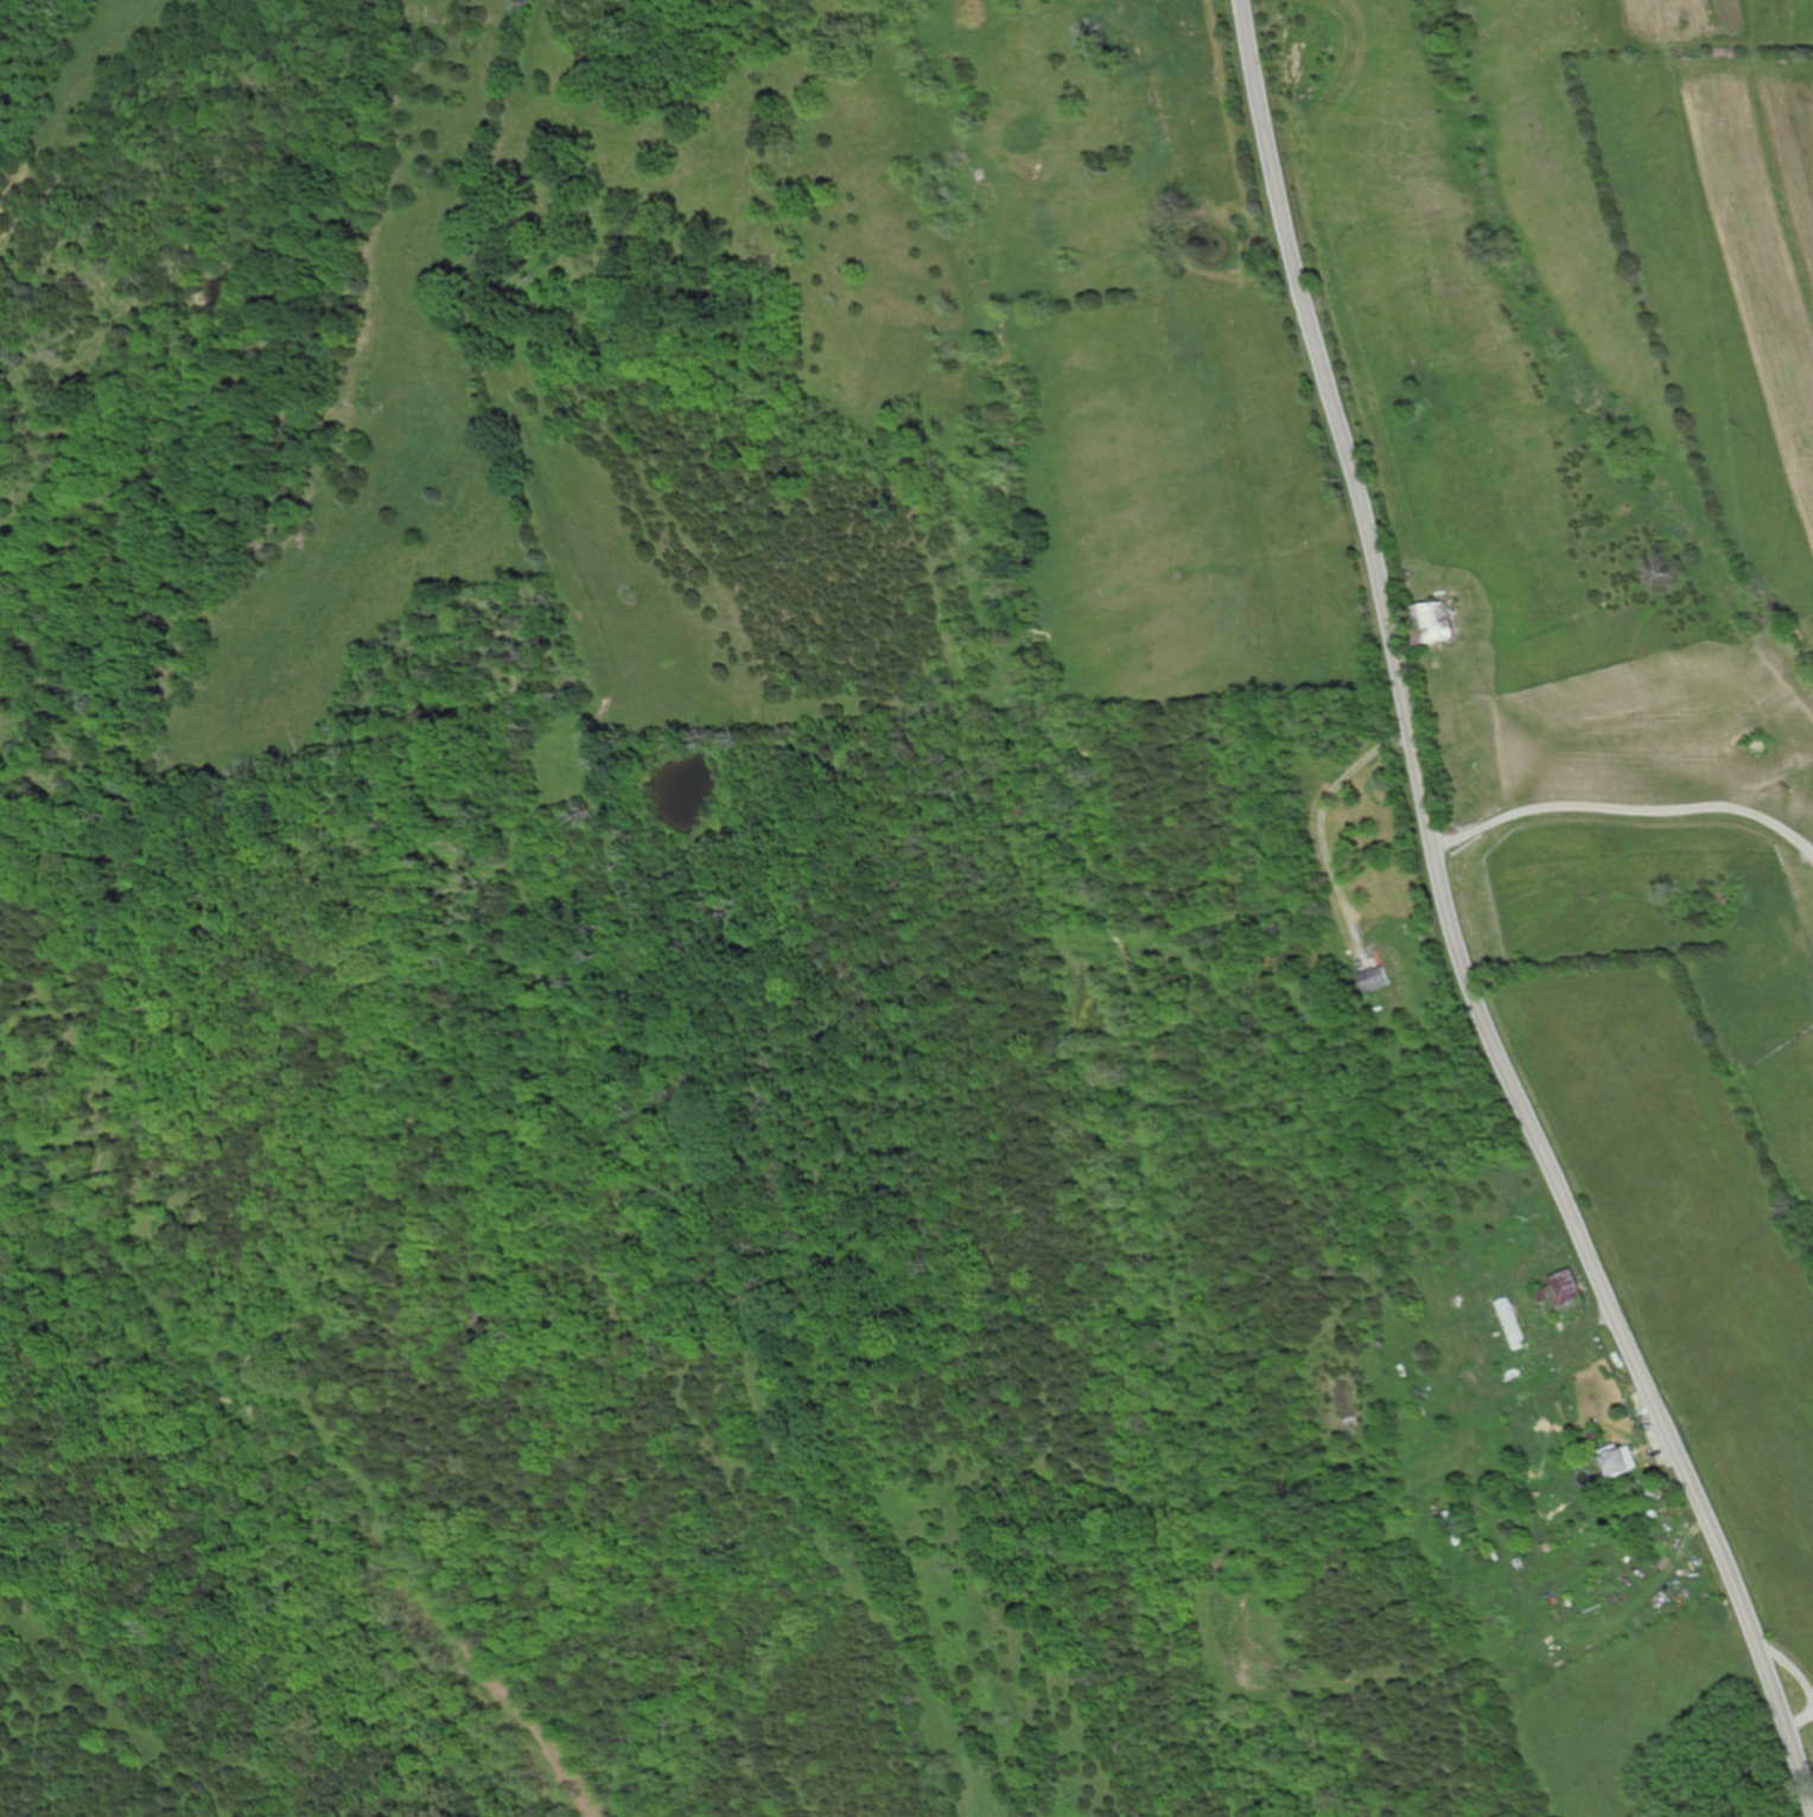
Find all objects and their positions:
road: (1626, 811)
road: (1455, 931)
building: (1368, 980)
building: (1559, 1289)
building: (1617, 1462)
road: (1790, 1662)
road: (1796, 1730)

